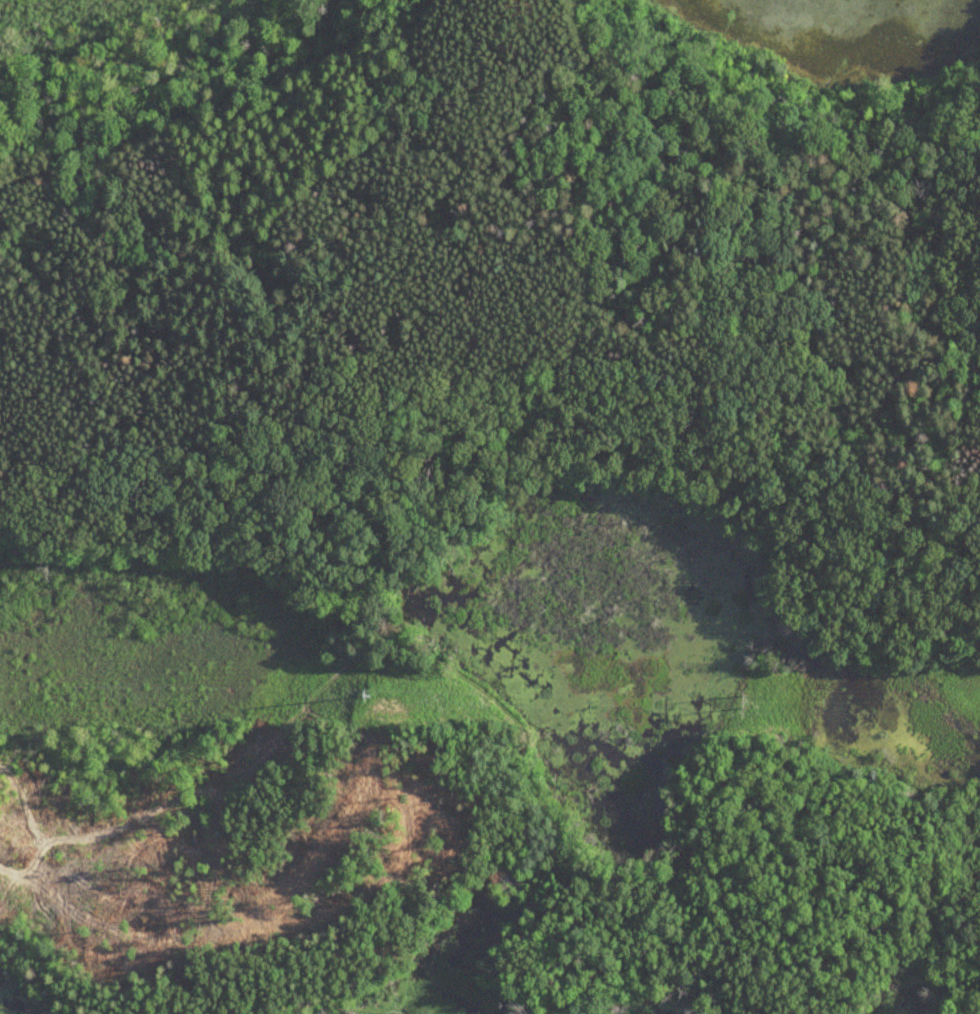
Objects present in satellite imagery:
power tower: (366, 689)
power tower: (741, 692)

